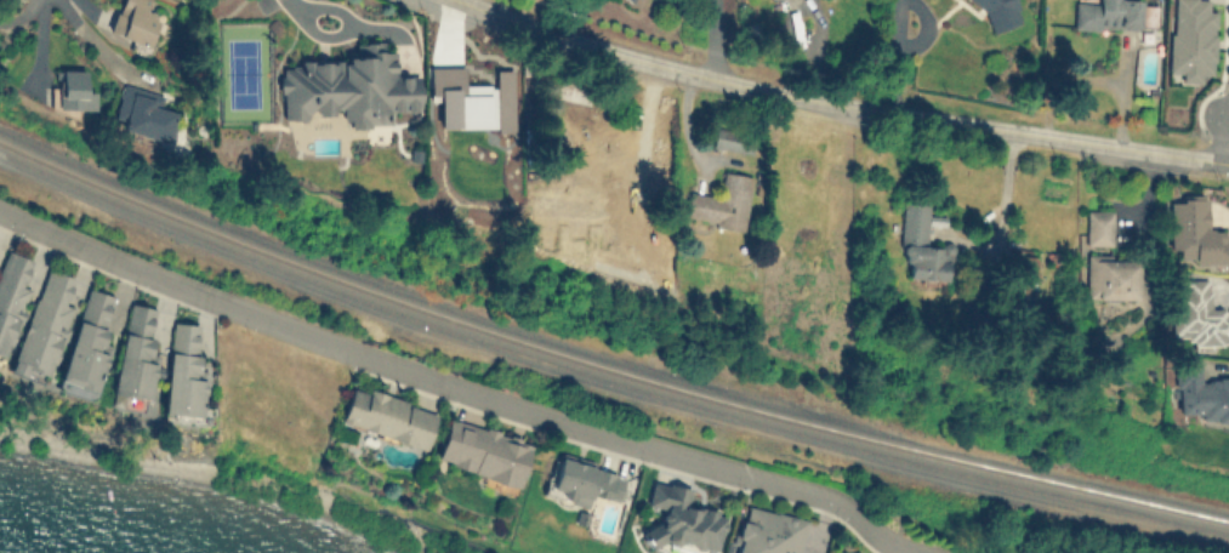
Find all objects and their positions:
building: (627, 0)
building: (998, 12)
building: (1106, 13)
building: (135, 21)
building: (1190, 39)
road: (716, 40)
road: (95, 46)
road: (898, 57)
building: (348, 86)
building: (72, 89)
building: (571, 91)
road: (836, 104)
building: (143, 112)
building: (732, 142)
road: (1227, 153)
building: (605, 165)
building: (547, 196)
building: (719, 201)
building: (1097, 227)
building: (1194, 232)
building: (554, 240)
building: (921, 246)
road: (109, 257)
building: (1020, 272)
building: (1110, 275)
building: (11, 295)
building: (1197, 313)
building: (42, 325)
road: (286, 326)
building: (86, 341)
building: (135, 349)
railway: (603, 366)
building: (182, 370)
building: (1201, 392)
building: (387, 416)
road: (643, 445)
building: (483, 451)
building: (580, 480)
building: (682, 518)
building: (769, 531)

